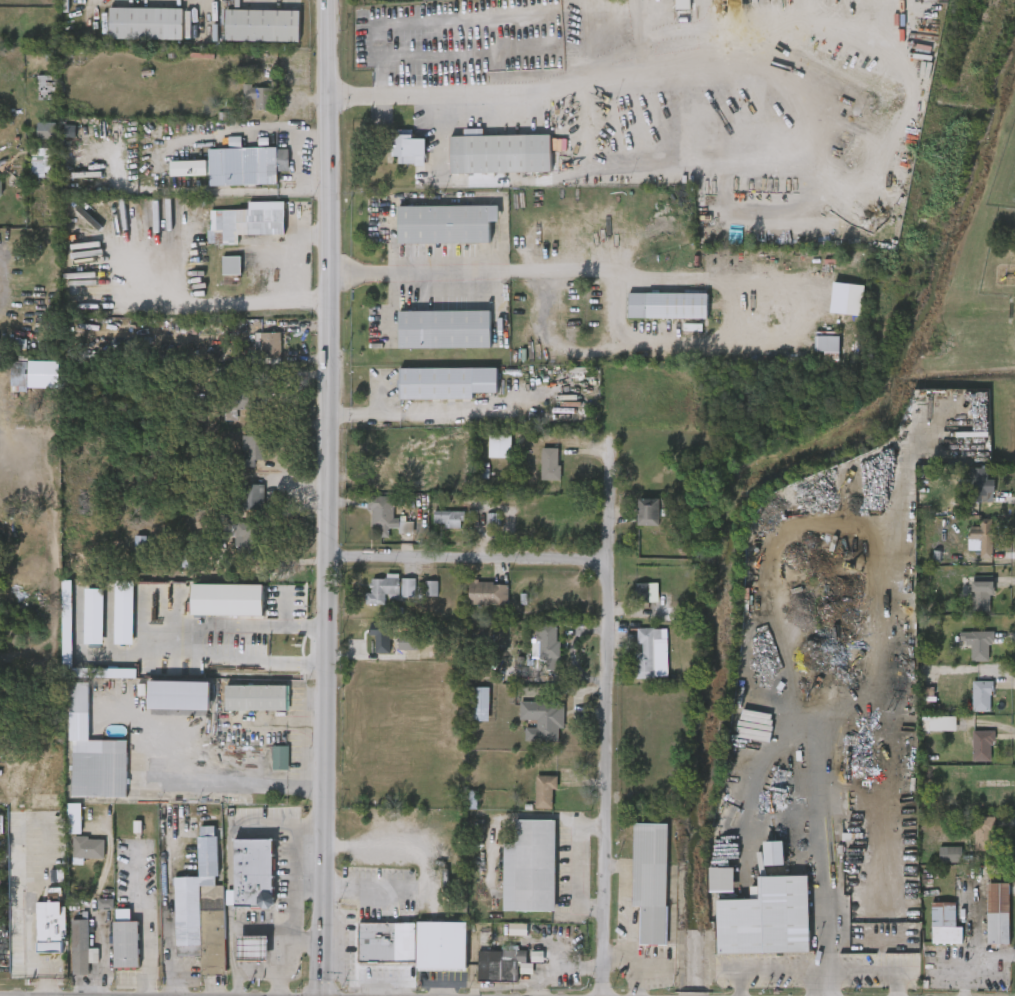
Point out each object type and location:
building: (682, 6)
building: (146, 24)
building: (263, 26)
road: (630, 49)
building: (678, 63)
building: (47, 88)
building: (259, 96)
building: (47, 131)
building: (407, 149)
building: (499, 155)
building: (43, 164)
building: (232, 166)
road: (506, 180)
building: (0, 189)
building: (249, 220)
building: (447, 224)
road: (298, 264)
building: (231, 265)
road: (637, 275)
building: (847, 299)
road: (210, 301)
building: (674, 307)
building: (568, 309)
building: (446, 329)
building: (825, 345)
building: (268, 347)
building: (23, 376)
building: (448, 381)
building: (247, 400)
road: (417, 410)
building: (500, 446)
building: (253, 449)
building: (550, 464)
building: (980, 482)
building: (250, 497)
road: (330, 498)
building: (649, 512)
building: (387, 517)
building: (448, 520)
building: (491, 520)
building: (983, 536)
building: (249, 538)
building: (140, 548)
road: (472, 559)
building: (983, 578)
building: (399, 589)
building: (641, 593)
building: (488, 594)
building: (981, 596)
building: (228, 600)
building: (124, 613)
building: (94, 616)
building: (67, 624)
building: (381, 637)
building: (548, 641)
building: (408, 642)
road: (194, 643)
building: (978, 644)
building: (646, 653)
building: (179, 695)
building: (981, 695)
building: (256, 698)
building: (477, 704)
road: (611, 718)
building: (542, 721)
building: (939, 724)
building: (982, 746)
building: (93, 754)
building: (279, 759)
road: (215, 775)
building: (546, 792)
building: (43, 800)
building: (74, 819)
building: (1, 823)
building: (984, 833)
road: (821, 845)
building: (86, 846)
building: (770, 853)
building: (954, 855)
road: (291, 865)
road: (578, 866)
building: (531, 867)
building: (253, 872)
building: (719, 880)
building: (653, 882)
road: (364, 885)
building: (105, 904)
building: (201, 908)
building: (998, 914)
building: (764, 919)
building: (49, 926)
building: (944, 926)
building: (518, 930)
road: (290, 938)
building: (126, 943)
road: (167, 943)
building: (374, 943)
building: (403, 943)
building: (78, 945)
building: (253, 946)
gas station: (253, 946)
road: (146, 947)
building: (440, 947)
road: (23, 956)
building: (501, 964)
road: (102, 966)
road: (562, 968)
road: (256, 969)
road: (768, 970)
road: (874, 970)
road: (826, 983)

